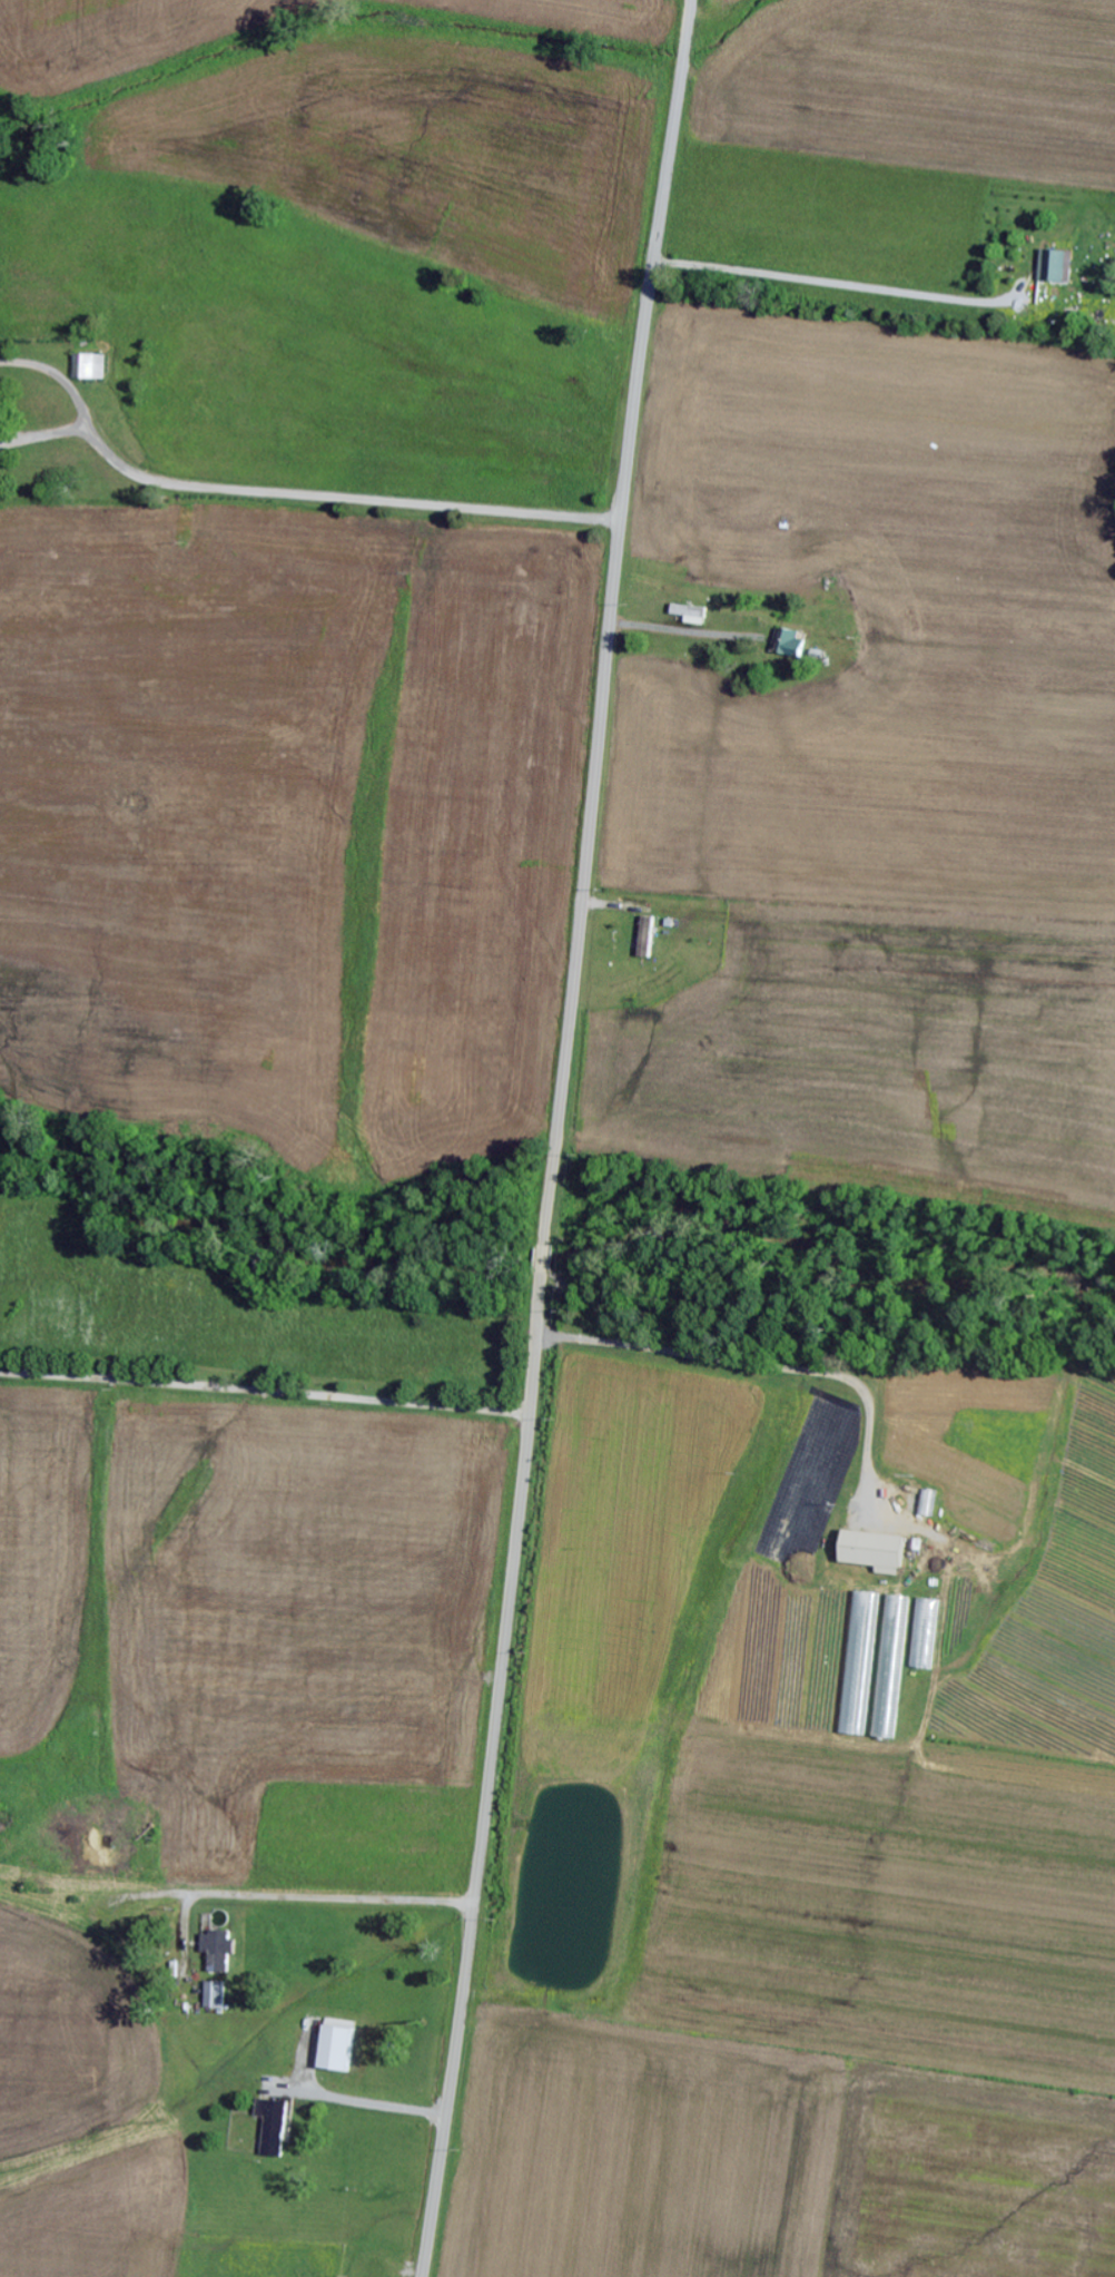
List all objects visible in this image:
building: (1050, 265)
building: (88, 366)
building: (689, 614)
building: (644, 936)
road: (554, 1138)
building: (889, 1668)
building: (215, 1949)
building: (214, 1995)
building: (336, 2044)
road: (364, 2110)
building: (270, 2126)

